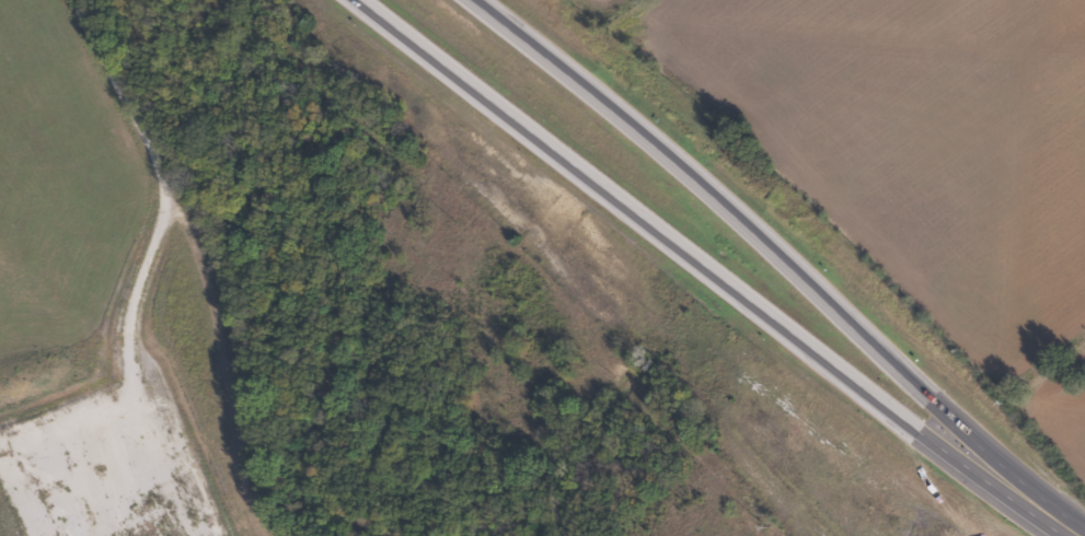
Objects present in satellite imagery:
road: (161, 209)
road: (793, 249)
river: (334, 261)
road: (715, 270)
road: (1075, 534)

